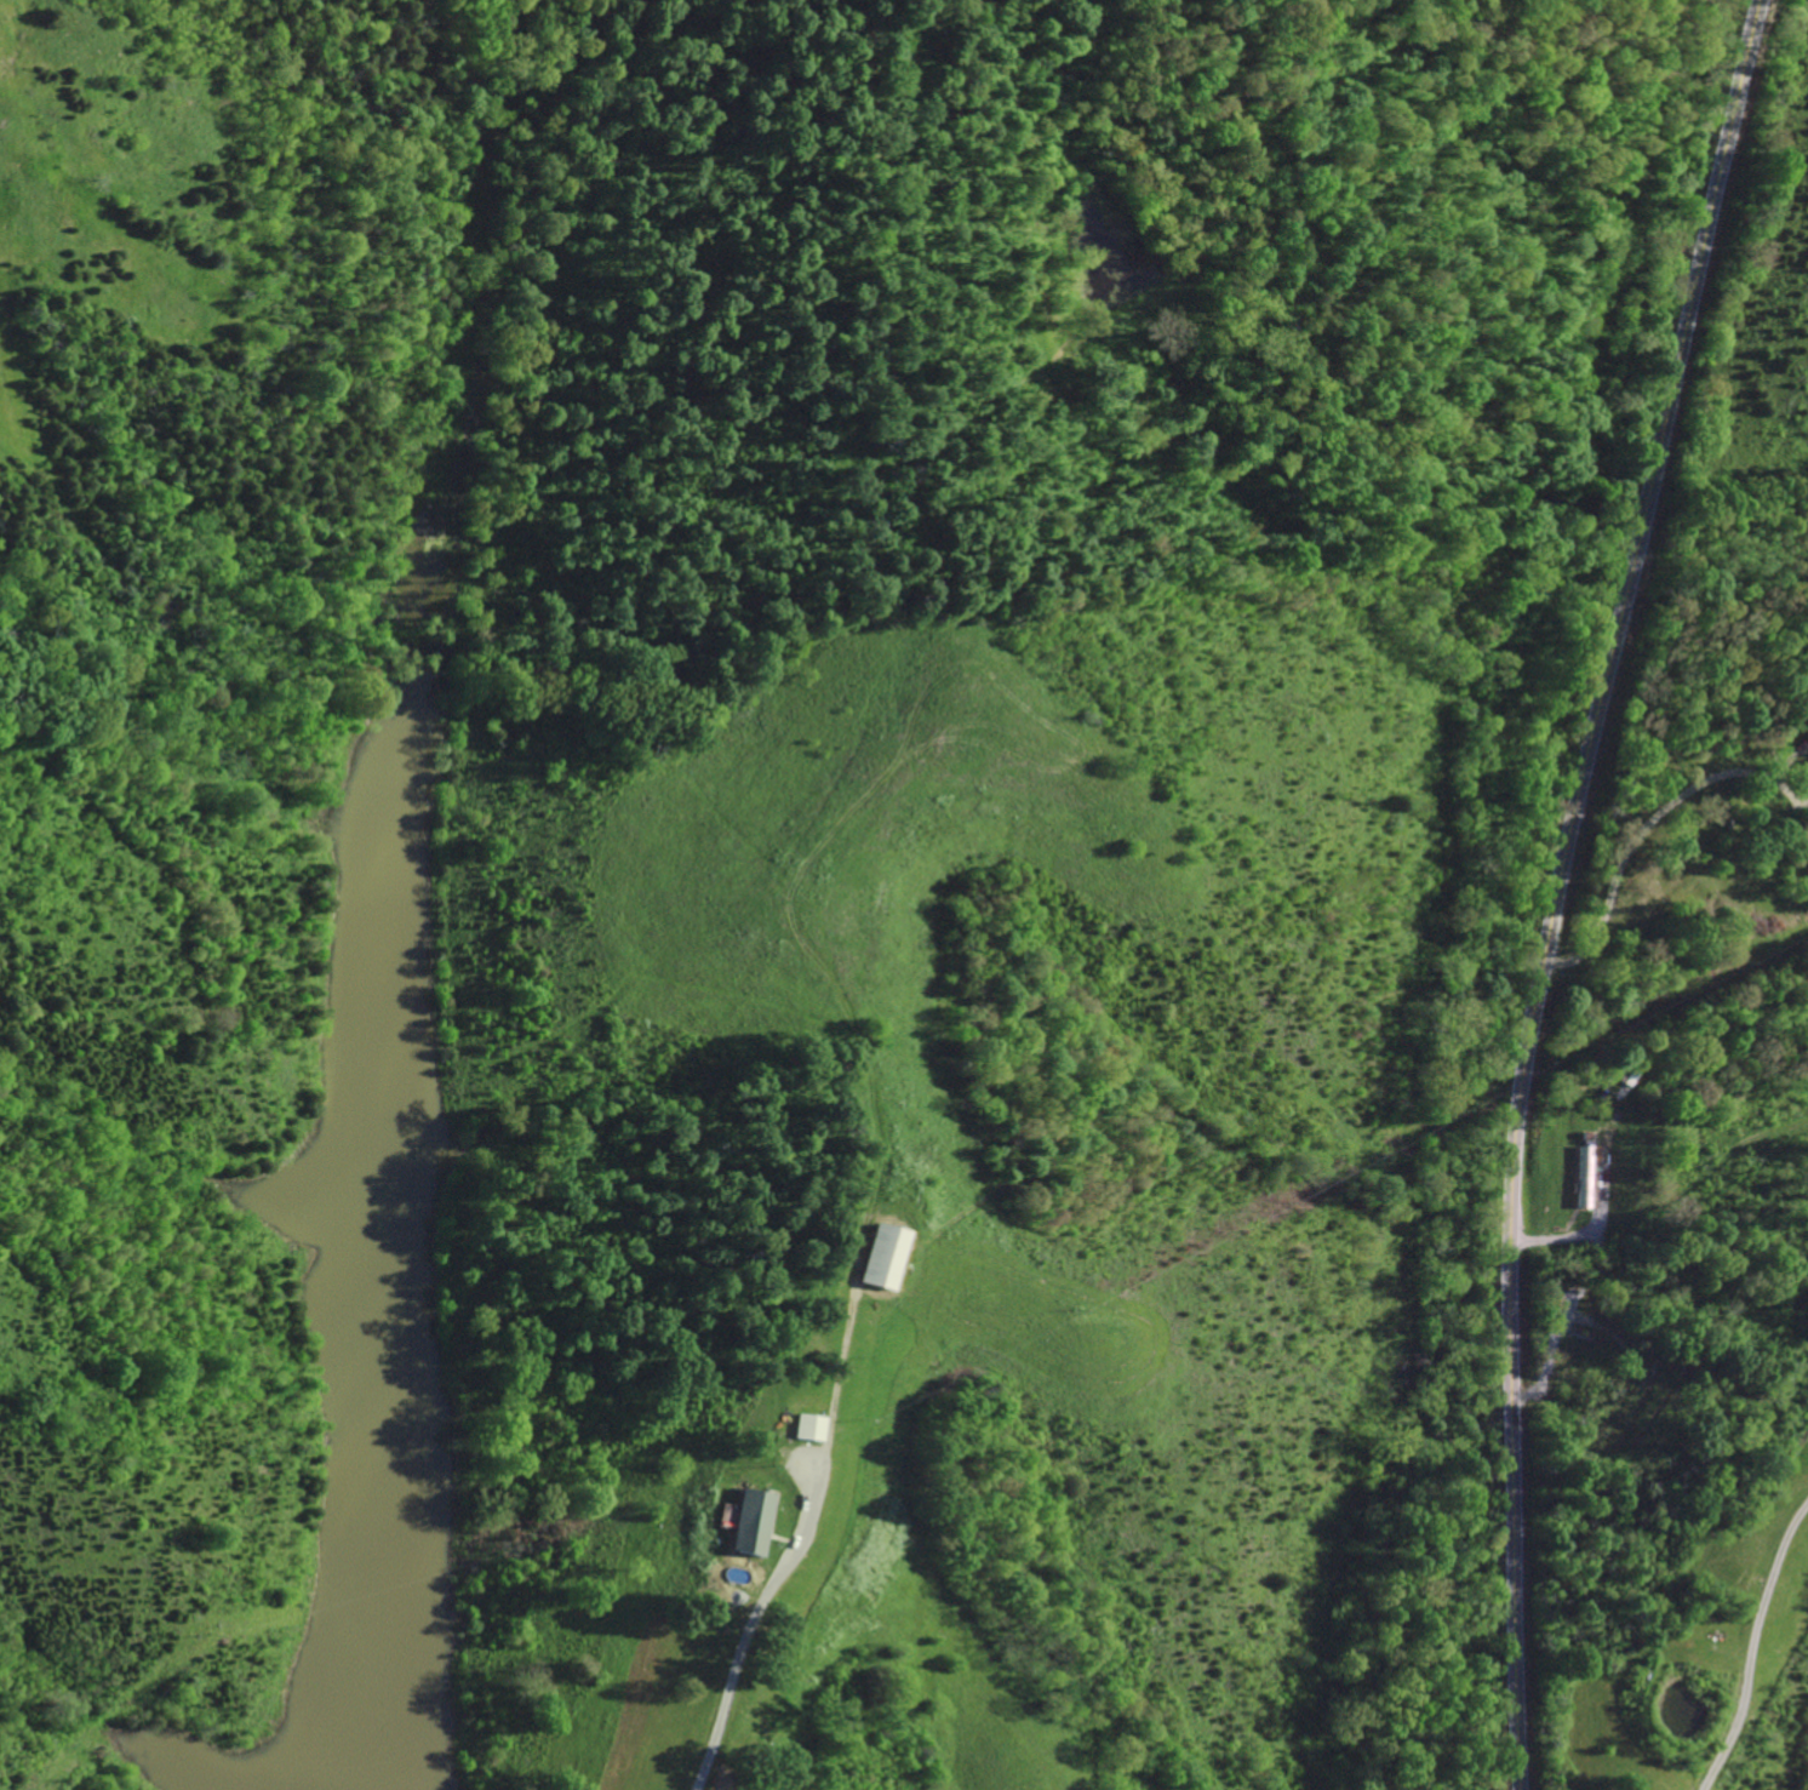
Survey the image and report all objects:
building: (1807, 759)
road: (1643, 822)
road: (1561, 886)
building: (872, 1256)
building: (803, 1426)
building: (746, 1522)
road: (742, 1645)
road: (1753, 1645)

